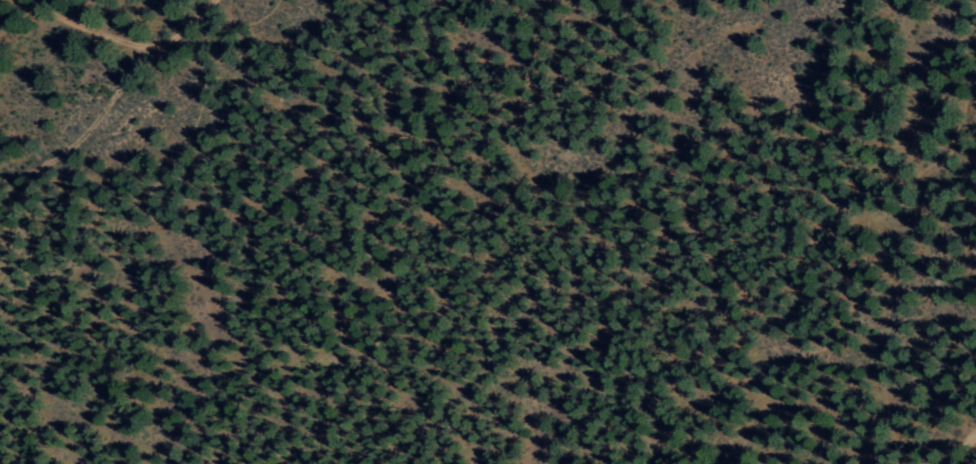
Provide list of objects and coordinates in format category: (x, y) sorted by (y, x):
road: (99, 78)

